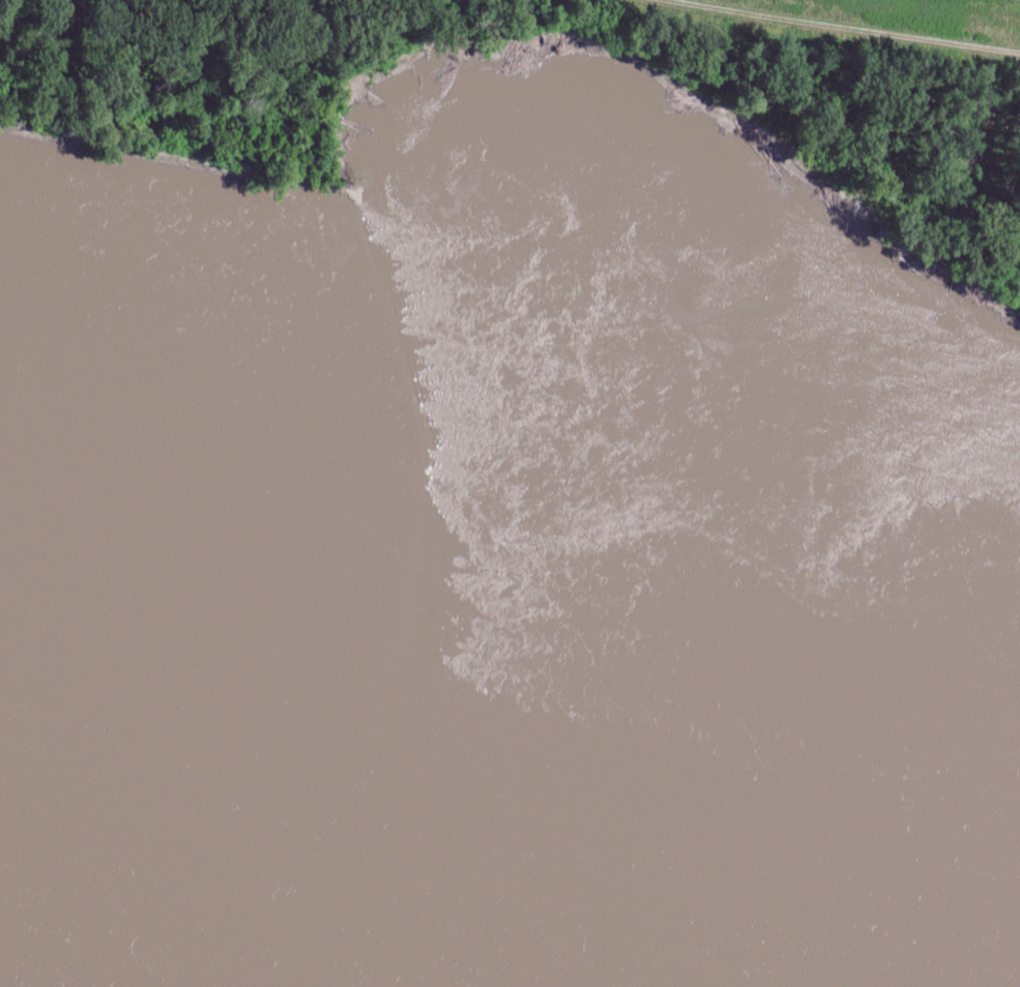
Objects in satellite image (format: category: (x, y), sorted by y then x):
road: (844, 26)
river: (511, 759)

